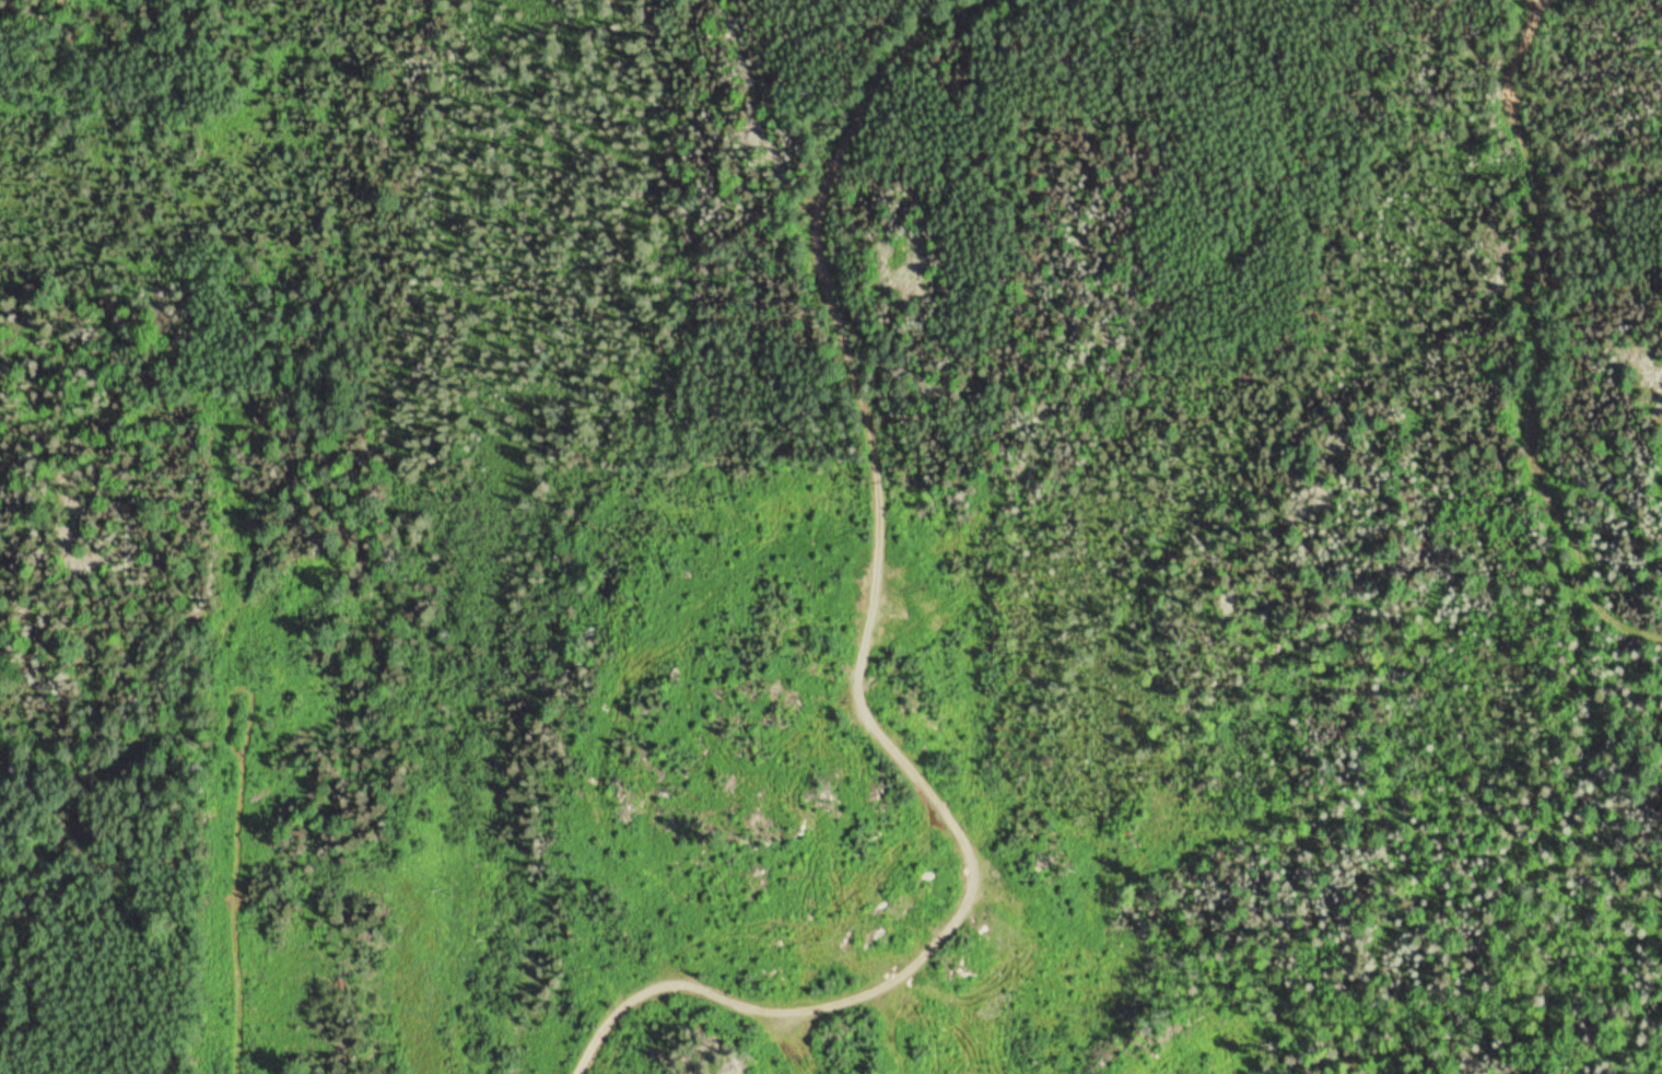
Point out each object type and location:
road: (1530, 340)
road: (858, 677)

